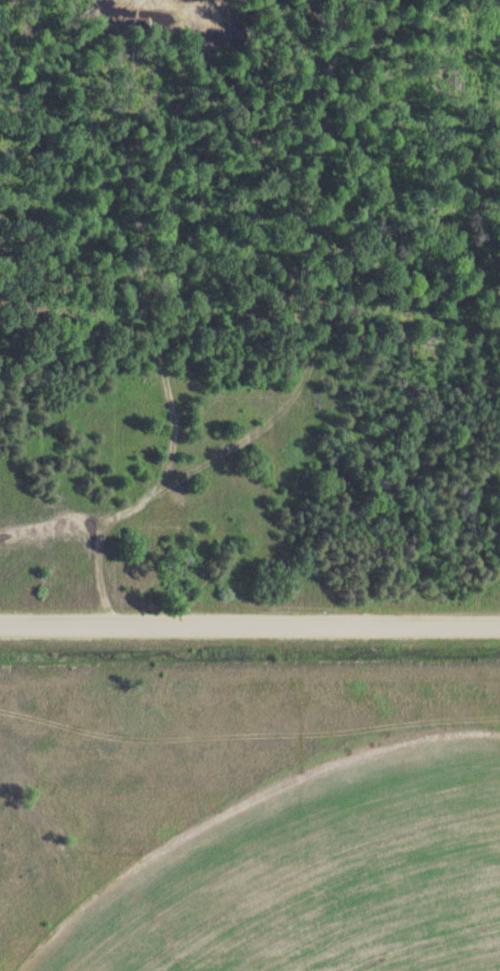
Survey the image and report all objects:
road: (250, 612)
wastewater plant: (250, 826)

